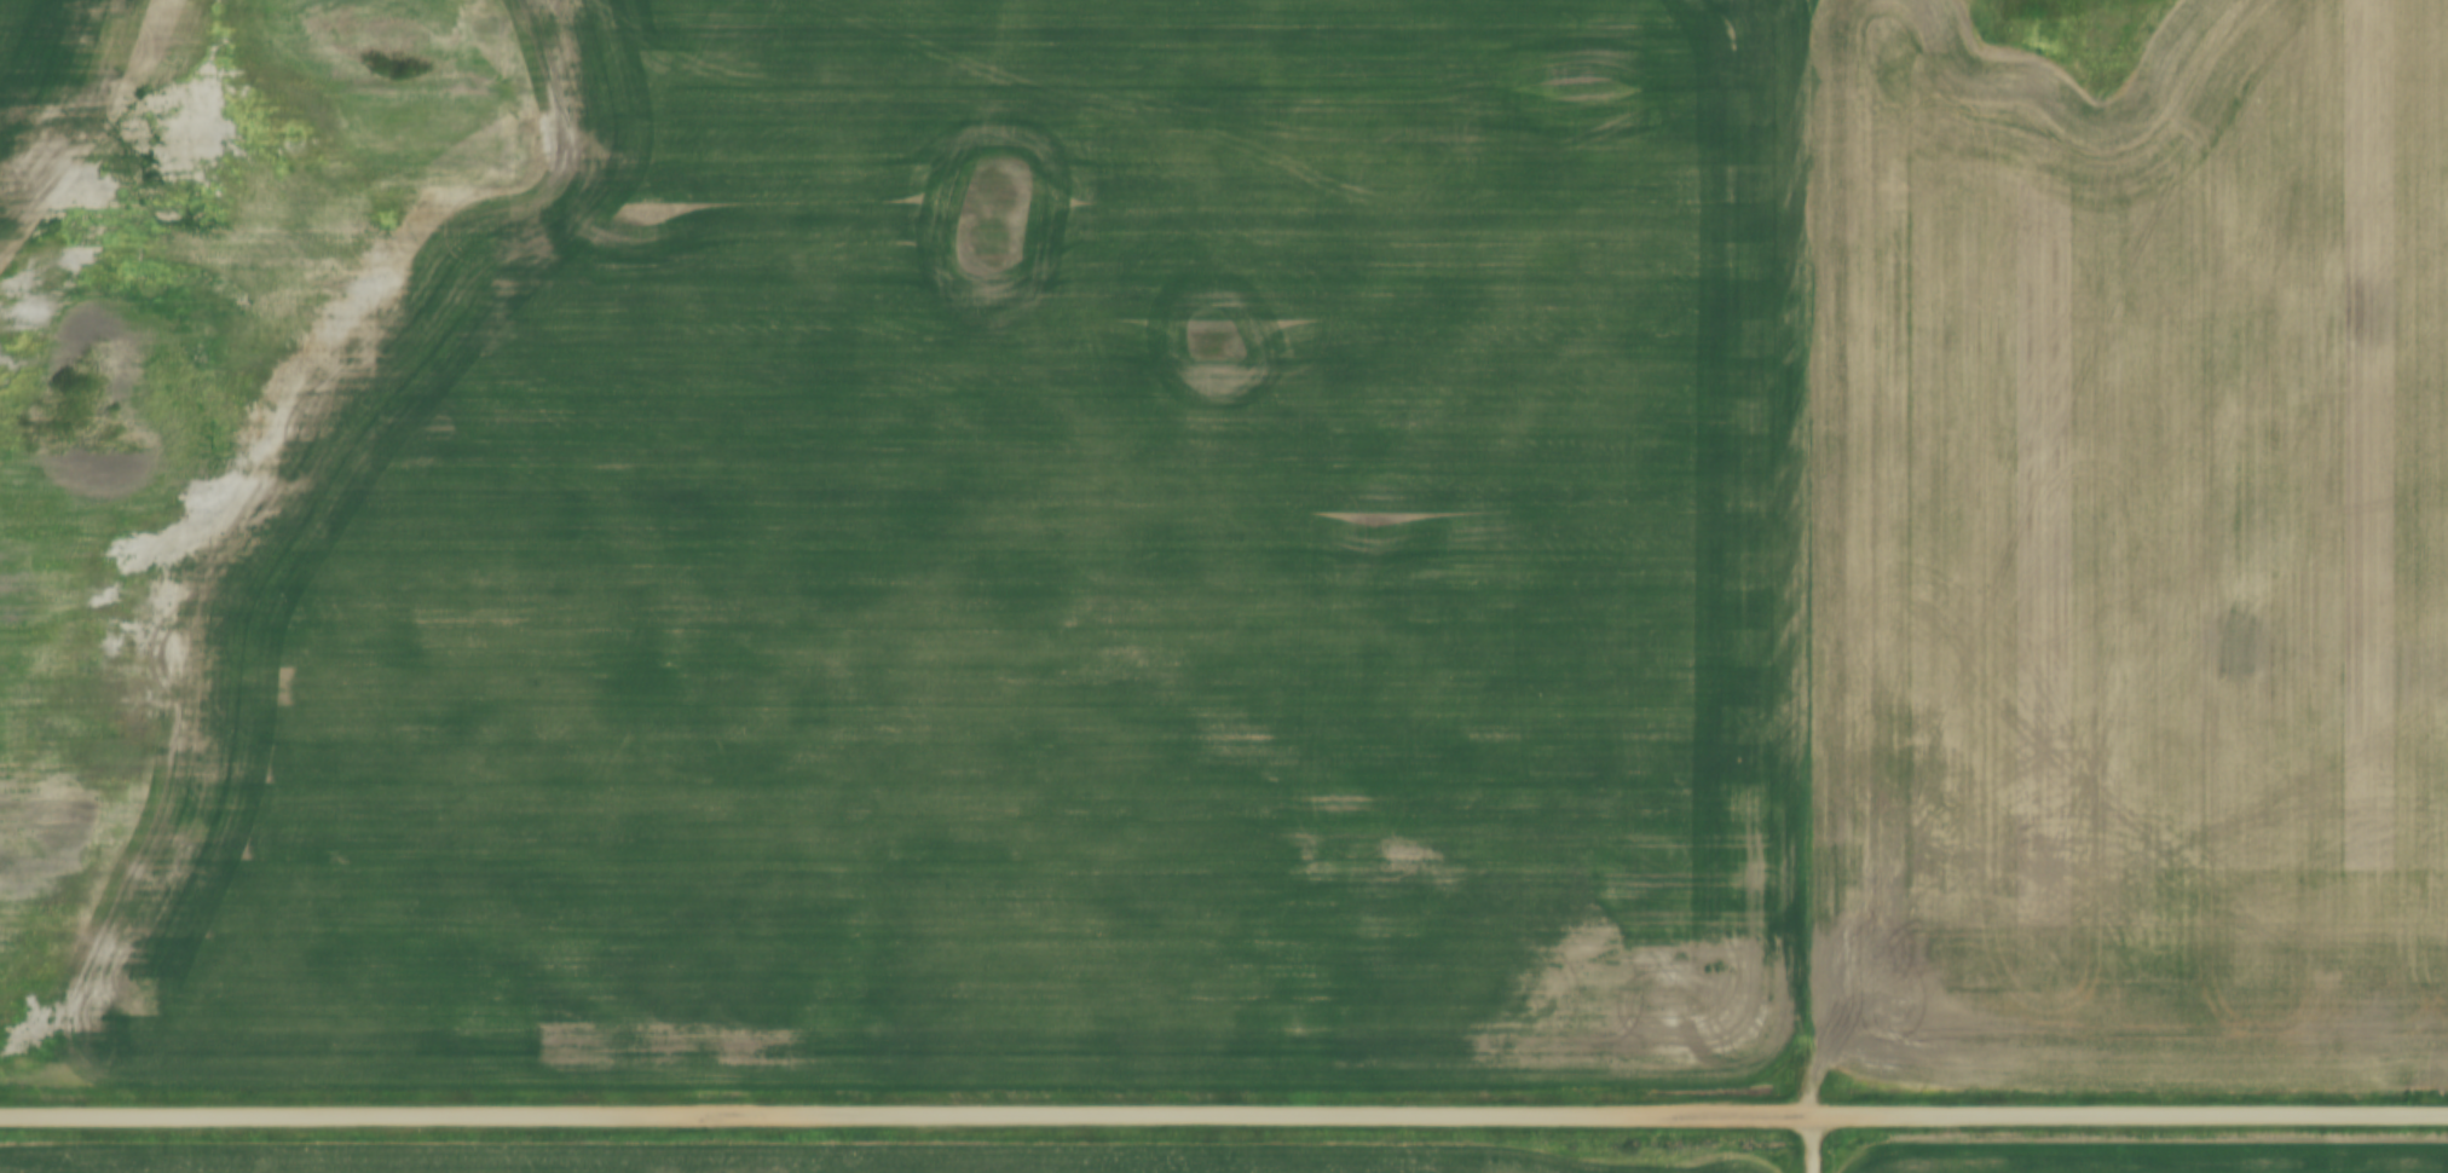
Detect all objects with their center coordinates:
road: (1817, 585)
road: (1224, 1115)

